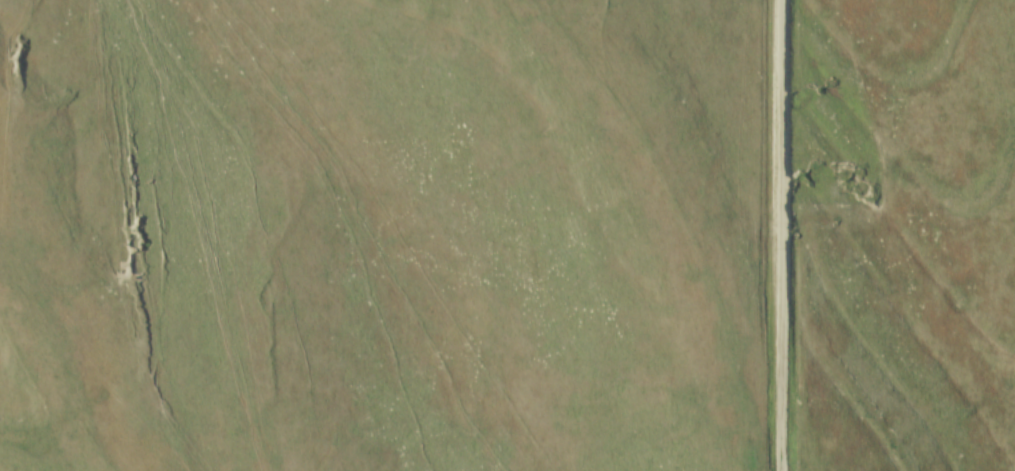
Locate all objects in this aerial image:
road: (779, 235)

